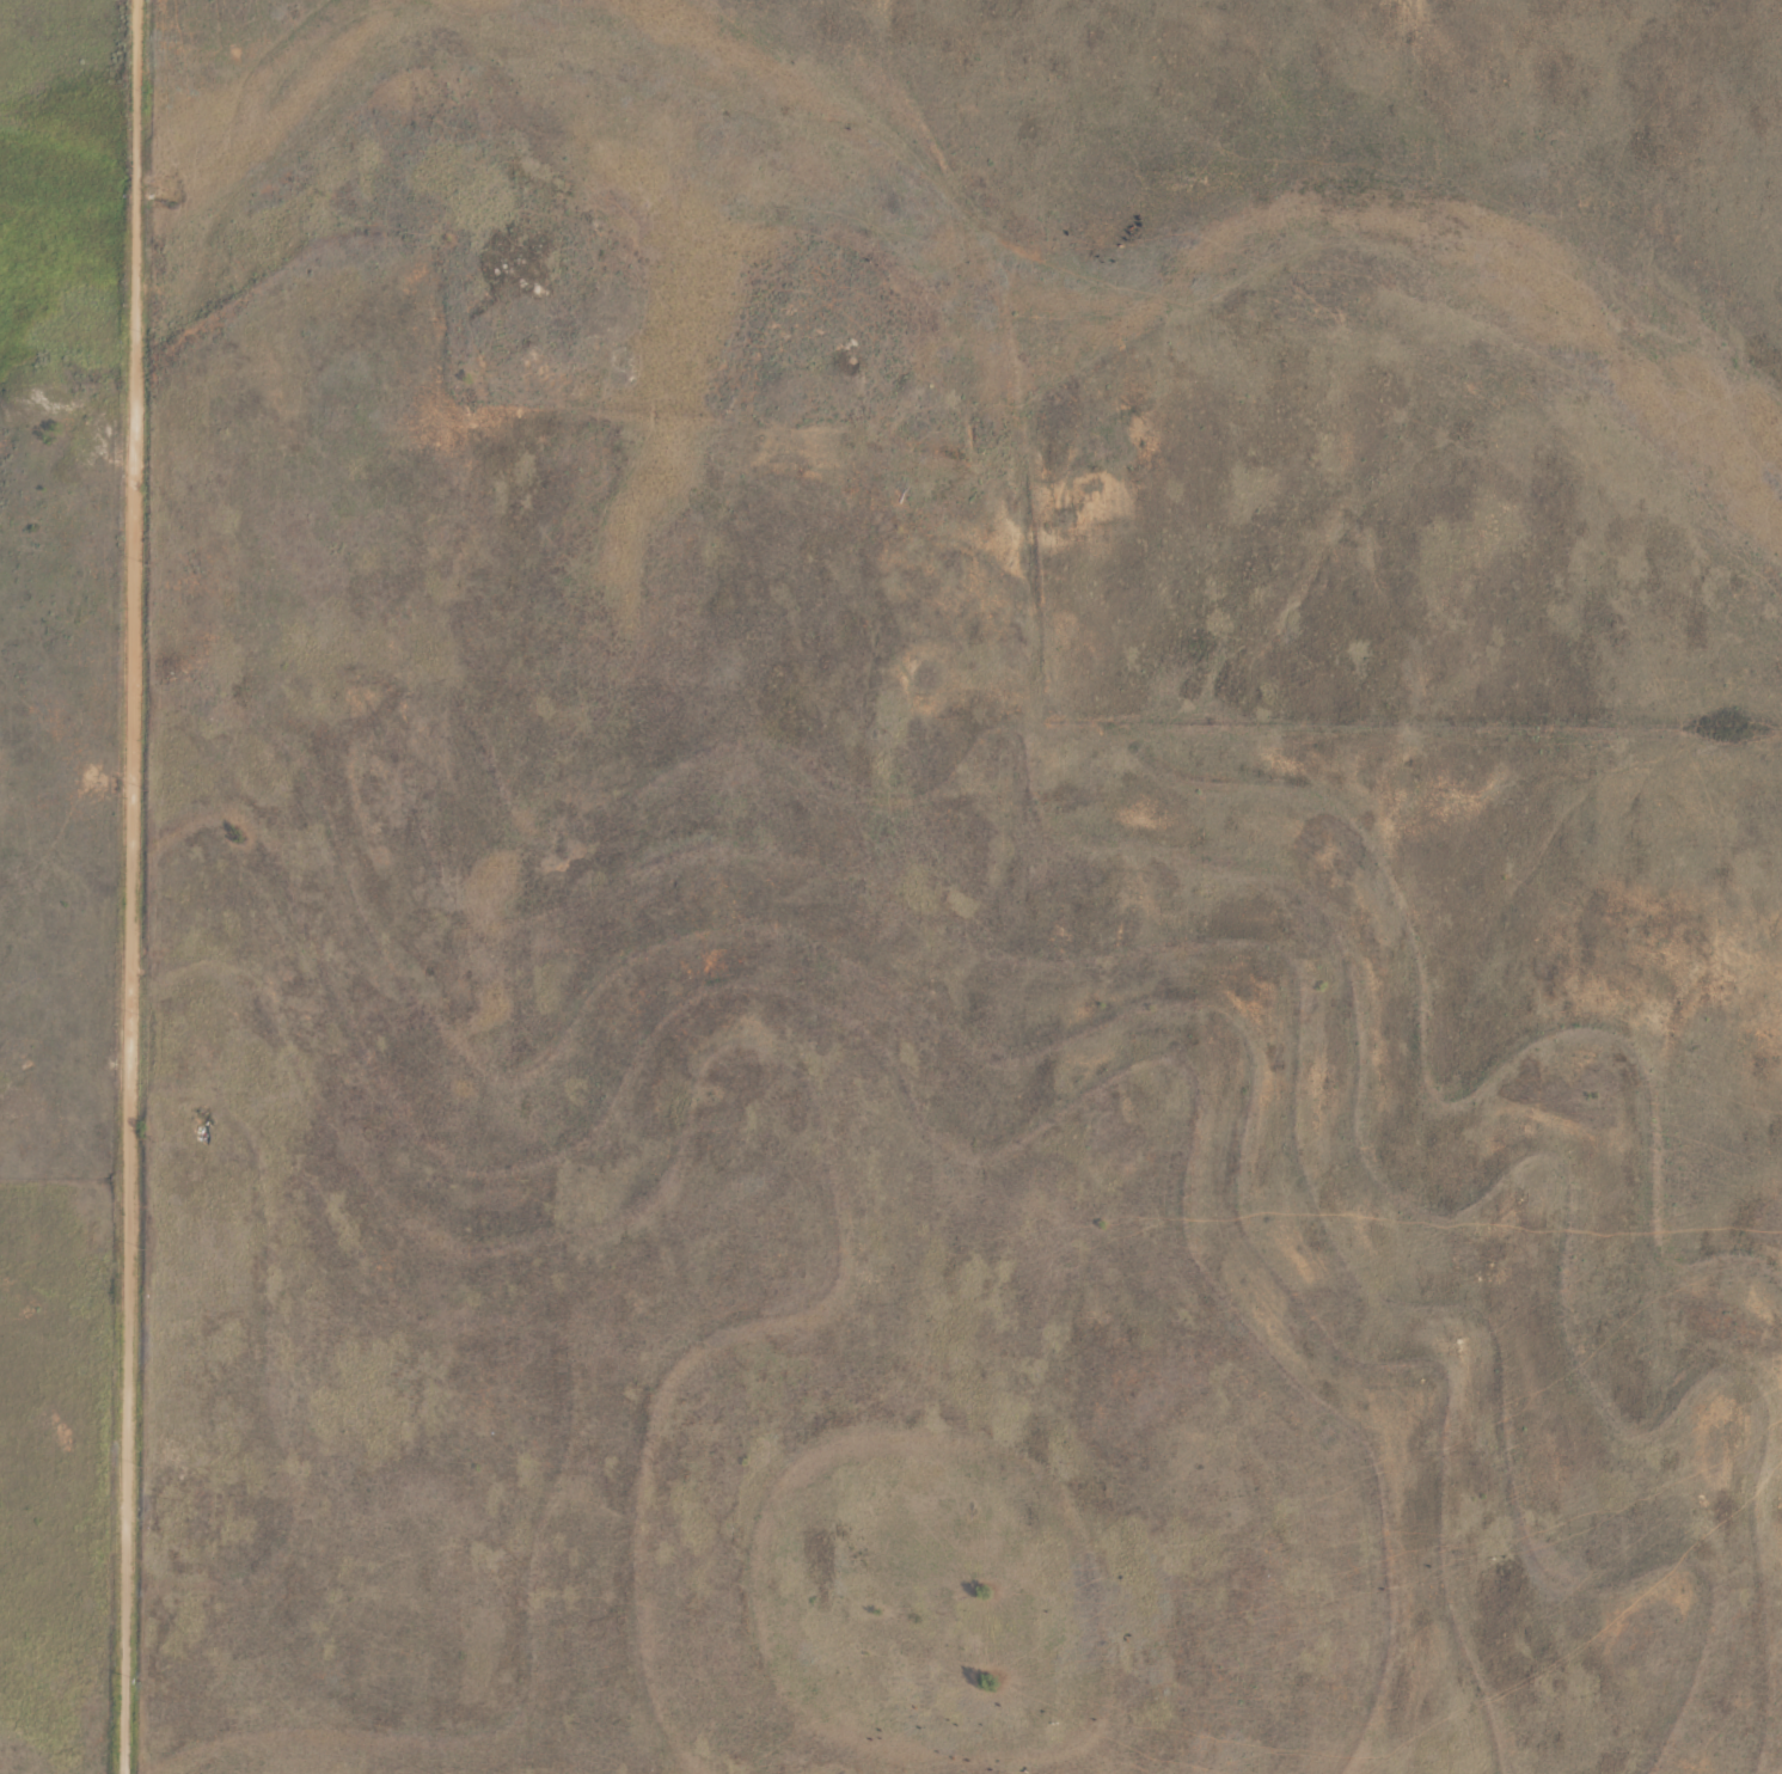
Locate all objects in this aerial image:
road: (134, 886)

